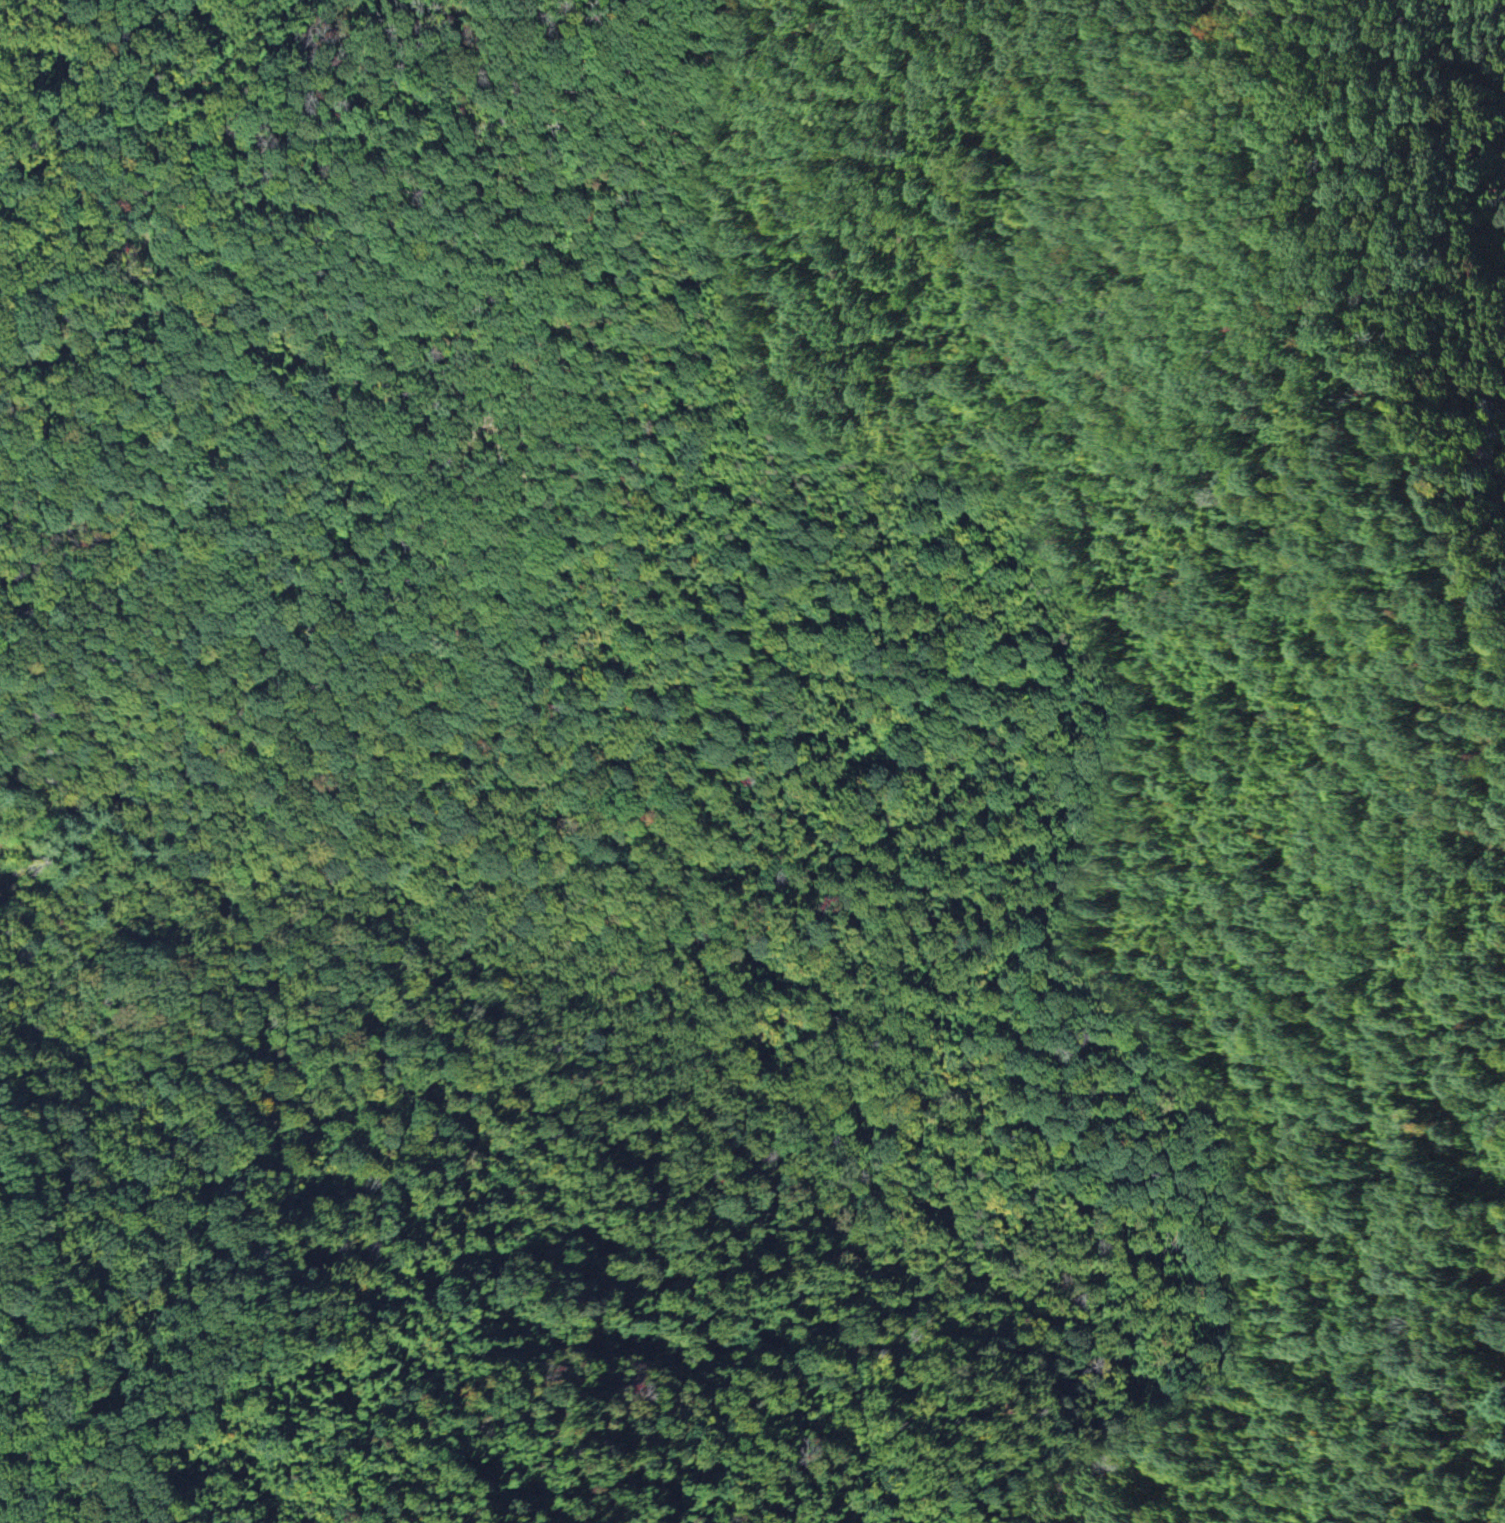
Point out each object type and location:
road: (1453, 1454)
road: (1504, 1518)

